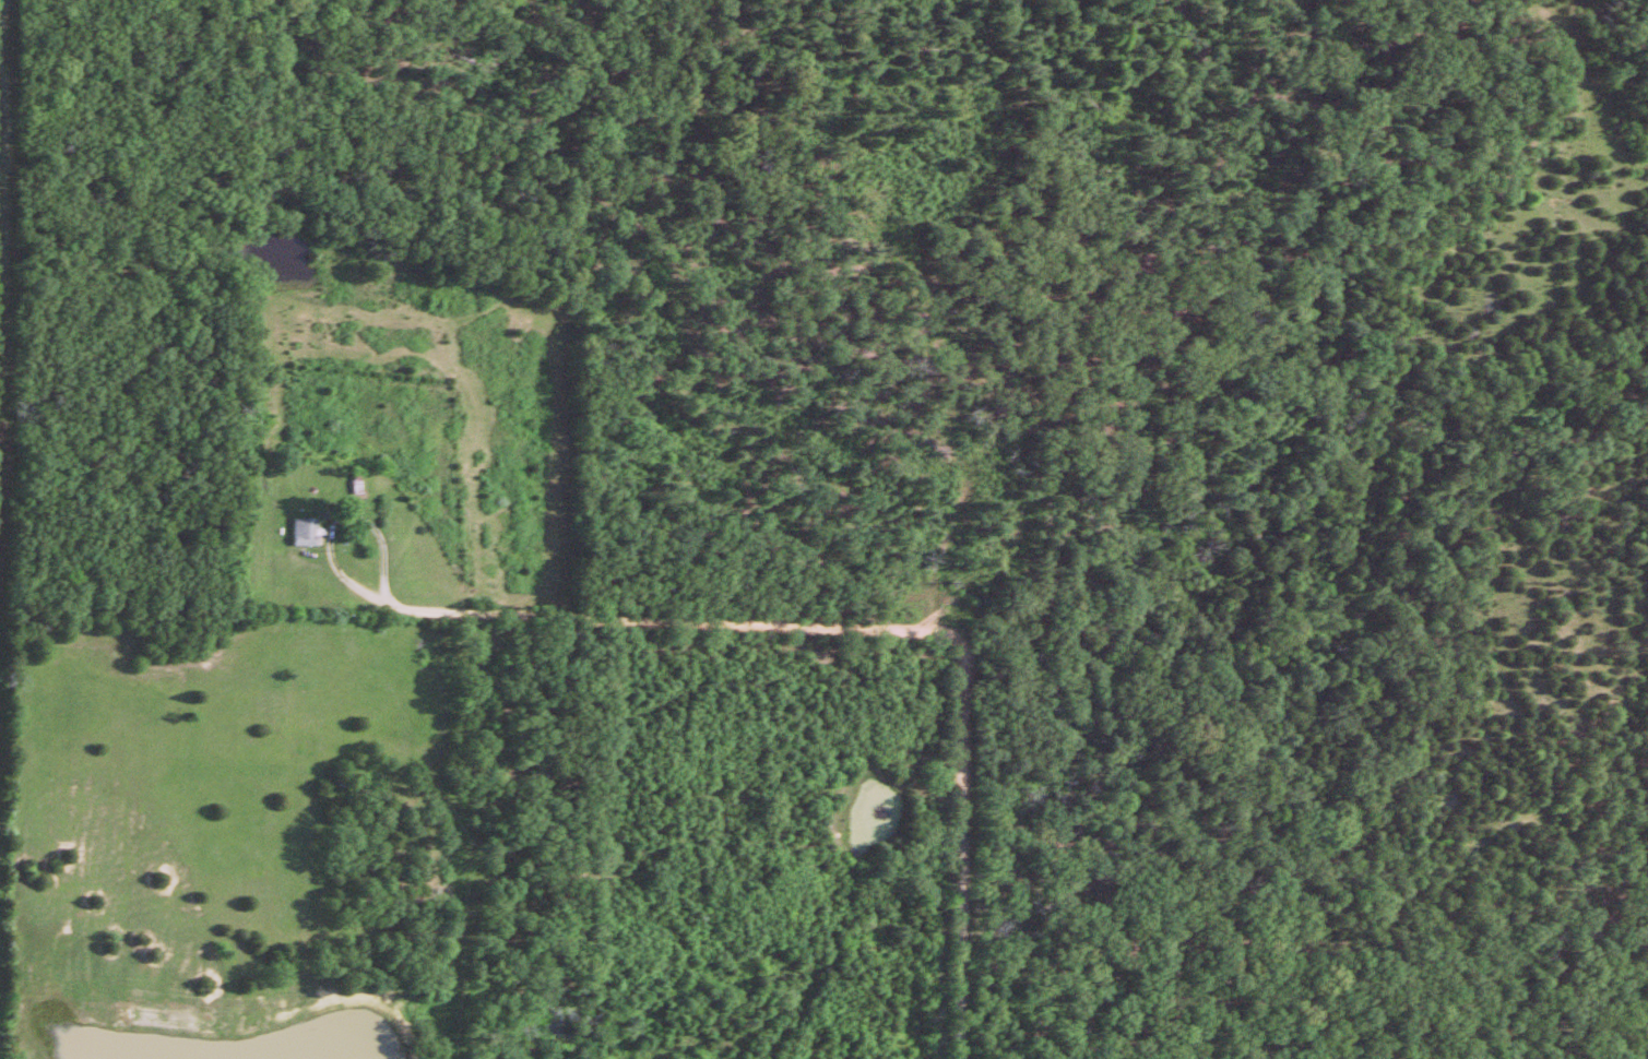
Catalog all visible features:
building: (310, 529)
road: (859, 629)

